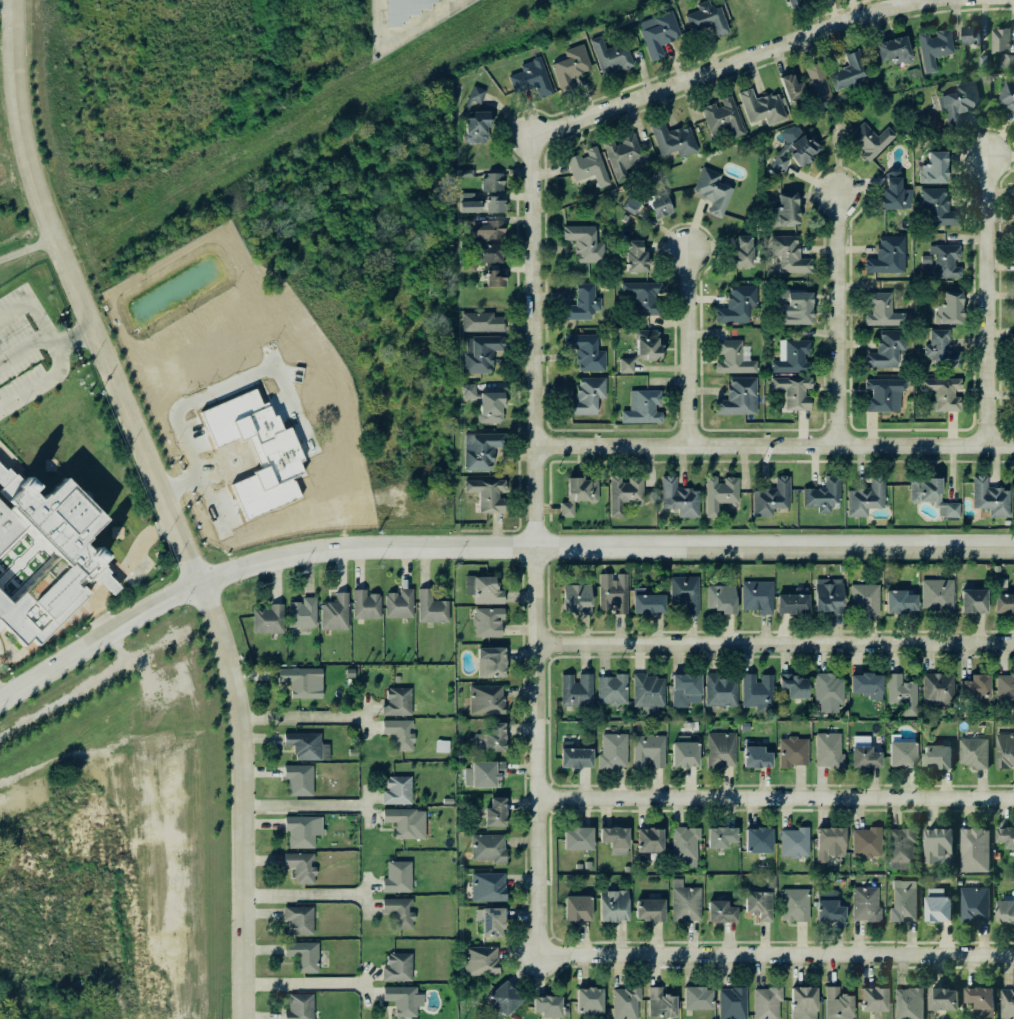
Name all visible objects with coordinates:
building: (807, 0)
road: (6, 1)
building: (792, 3)
building: (402, 10)
building: (705, 19)
road: (400, 31)
building: (655, 33)
building: (968, 35)
building: (998, 40)
building: (932, 49)
building: (891, 51)
building: (608, 55)
building: (981, 61)
building: (1004, 61)
building: (569, 67)
building: (845, 71)
building: (530, 78)
building: (806, 87)
building: (1004, 99)
building: (957, 103)
building: (759, 108)
building: (473, 119)
building: (720, 119)
building: (1012, 120)
road: (967, 132)
building: (671, 140)
building: (867, 141)
building: (793, 148)
building: (621, 156)
building: (586, 166)
building: (931, 169)
building: (461, 172)
building: (492, 181)
building: (461, 191)
building: (711, 191)
building: (890, 194)
building: (492, 202)
building: (465, 204)
building: (629, 205)
building: (659, 206)
building: (935, 208)
building: (782, 211)
building: (1010, 215)
building: (483, 229)
building: (581, 242)
road: (27, 250)
building: (739, 253)
building: (786, 254)
building: (1009, 254)
building: (490, 255)
building: (630, 256)
building: (885, 256)
building: (923, 260)
building: (940, 263)
building: (463, 264)
building: (491, 276)
building: (638, 293)
road: (79, 298)
road: (987, 300)
building: (580, 304)
road: (999, 304)
road: (29, 305)
building: (735, 305)
building: (1010, 306)
building: (946, 309)
building: (794, 310)
building: (879, 311)
parking lot: (15, 316)
road: (825, 316)
road: (838, 320)
building: (478, 322)
road: (67, 338)
road: (535, 339)
building: (935, 346)
building: (638, 349)
road: (689, 349)
road: (24, 350)
building: (582, 350)
building: (884, 350)
building: (478, 353)
building: (1011, 356)
building: (790, 358)
building: (730, 359)
parking lot: (19, 366)
parking lot: (21, 381)
road: (41, 385)
building: (467, 392)
building: (791, 392)
building: (939, 393)
building: (881, 395)
road: (198, 396)
building: (583, 396)
building: (737, 398)
building: (641, 406)
building: (489, 410)
building: (1010, 414)
road: (775, 446)
building: (481, 449)
road: (9, 457)
road: (752, 463)
fountain: (50, 464)
road: (6, 470)
road: (22, 472)
road: (9, 474)
road: (10, 486)
road: (181, 486)
building: (486, 493)
building: (575, 493)
building: (621, 494)
building: (718, 494)
building: (928, 495)
building: (818, 496)
building: (987, 496)
building: (1012, 496)
building: (677, 498)
building: (768, 498)
building: (863, 498)
building: (894, 516)
building: (58, 522)
building: (8, 526)
fountain: (117, 532)
road: (11, 539)
road: (39, 542)
road: (487, 546)
fountain: (18, 548)
road: (30, 549)
road: (104, 558)
road: (20, 560)
fountain: (4, 561)
fountain: (5, 561)
road: (18, 561)
fountain: (32, 562)
fountain: (32, 563)
road: (109, 571)
road: (121, 572)
parking lot: (138, 572)
road: (98, 573)
fountain: (19, 576)
road: (10, 578)
road: (30, 578)
building: (481, 588)
building: (682, 590)
building: (612, 594)
building: (933, 594)
road: (4, 595)
road: (88, 595)
building: (755, 596)
building: (825, 596)
building: (861, 598)
building: (573, 600)
building: (720, 600)
building: (896, 600)
building: (643, 601)
building: (969, 601)
building: (41, 602)
building: (791, 602)
building: (1005, 603)
building: (364, 606)
building: (398, 606)
building: (431, 611)
building: (333, 613)
building: (300, 614)
building: (268, 620)
building: (485, 623)
road: (68, 629)
road: (145, 640)
road: (112, 642)
road: (12, 644)
road: (775, 645)
road: (54, 646)
road: (37, 648)
road: (3, 650)
road: (81, 650)
road: (108, 652)
building: (488, 661)
building: (396, 680)
building: (786, 683)
building: (860, 683)
building: (299, 685)
building: (969, 686)
building: (574, 687)
building: (754, 687)
building: (610, 688)
building: (932, 688)
building: (682, 689)
building: (717, 689)
building: (825, 689)
building: (1005, 690)
building: (647, 691)
building: (899, 691)
road: (0, 700)
building: (484, 700)
building: (396, 702)
road: (301, 719)
building: (398, 734)
building: (488, 737)
building: (304, 745)
building: (1004, 748)
building: (611, 749)
building: (718, 749)
building: (790, 750)
building: (827, 750)
building: (648, 751)
building: (975, 753)
building: (680, 754)
building: (897, 755)
building: (571, 756)
building: (751, 756)
building: (859, 756)
building: (934, 756)
building: (480, 775)
building: (295, 778)
building: (395, 791)
road: (776, 796)
road: (241, 798)
road: (303, 806)
building: (491, 813)
road: (200, 820)
building: (399, 821)
building: (298, 831)
building: (716, 835)
building: (1005, 835)
building: (574, 838)
building: (610, 839)
building: (752, 839)
building: (792, 839)
building: (645, 840)
building: (862, 842)
building: (681, 843)
building: (897, 843)
building: (934, 843)
building: (826, 844)
building: (486, 849)
building: (972, 849)
building: (298, 868)
building: (395, 877)
building: (485, 887)
road: (304, 895)
building: (902, 901)
building: (683, 902)
building: (972, 904)
building: (792, 905)
building: (863, 905)
building: (608, 906)
building: (933, 906)
building: (572, 908)
building: (755, 909)
building: (395, 910)
building: (647, 910)
building: (825, 911)
building: (1004, 911)
building: (717, 912)
building: (296, 919)
building: (485, 921)
building: (302, 955)
road: (776, 955)
building: (479, 961)
building: (396, 966)
road: (305, 986)
building: (499, 996)
building: (693, 997)
building: (938, 997)
building: (869, 998)
building: (399, 999)
building: (584, 1000)
building: (731, 1001)
building: (979, 1001)
building: (625, 1002)
building: (764, 1002)
building: (799, 1002)
building: (542, 1003)
building: (659, 1003)
building: (908, 1003)
building: (1007, 1003)
building: (836, 1005)
building: (297, 1007)

